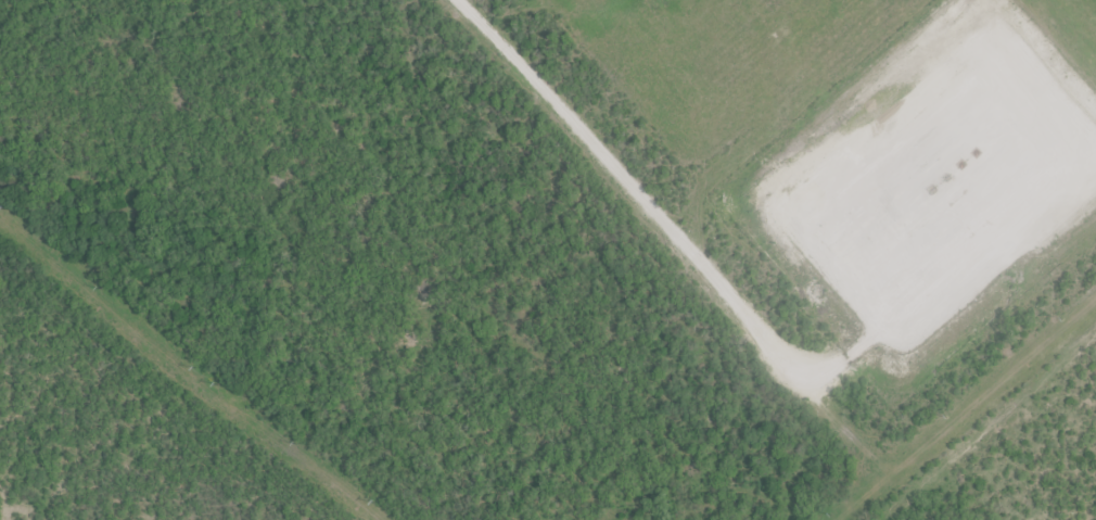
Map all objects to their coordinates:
road: (672, 237)

